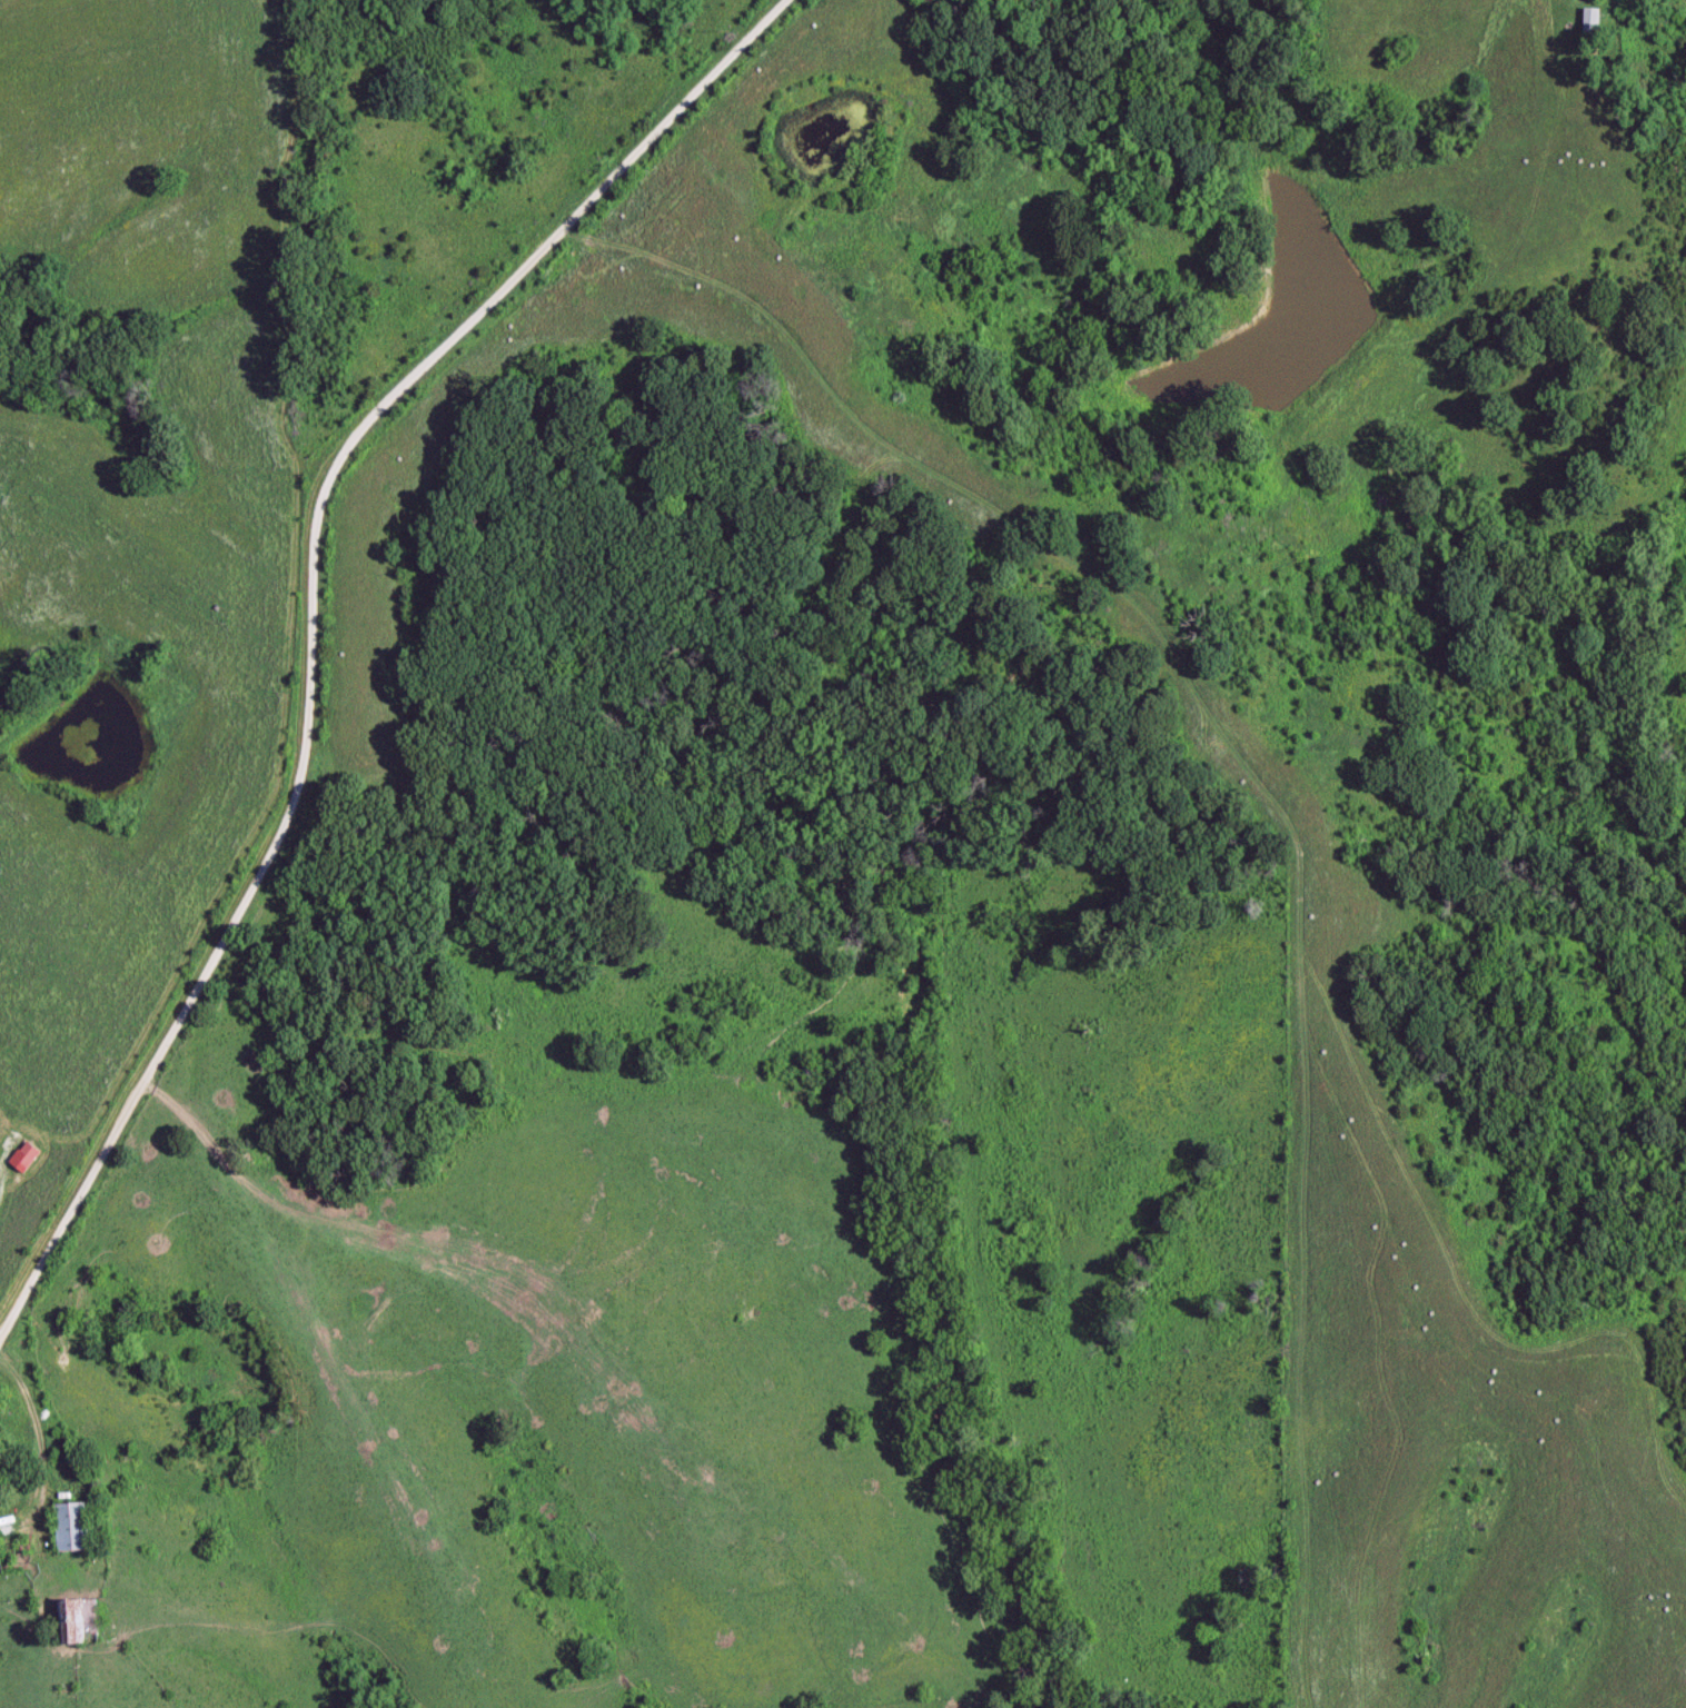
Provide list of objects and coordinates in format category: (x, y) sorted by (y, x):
road: (319, 618)
road: (43, 1439)
building: (70, 1527)
building: (79, 1621)

